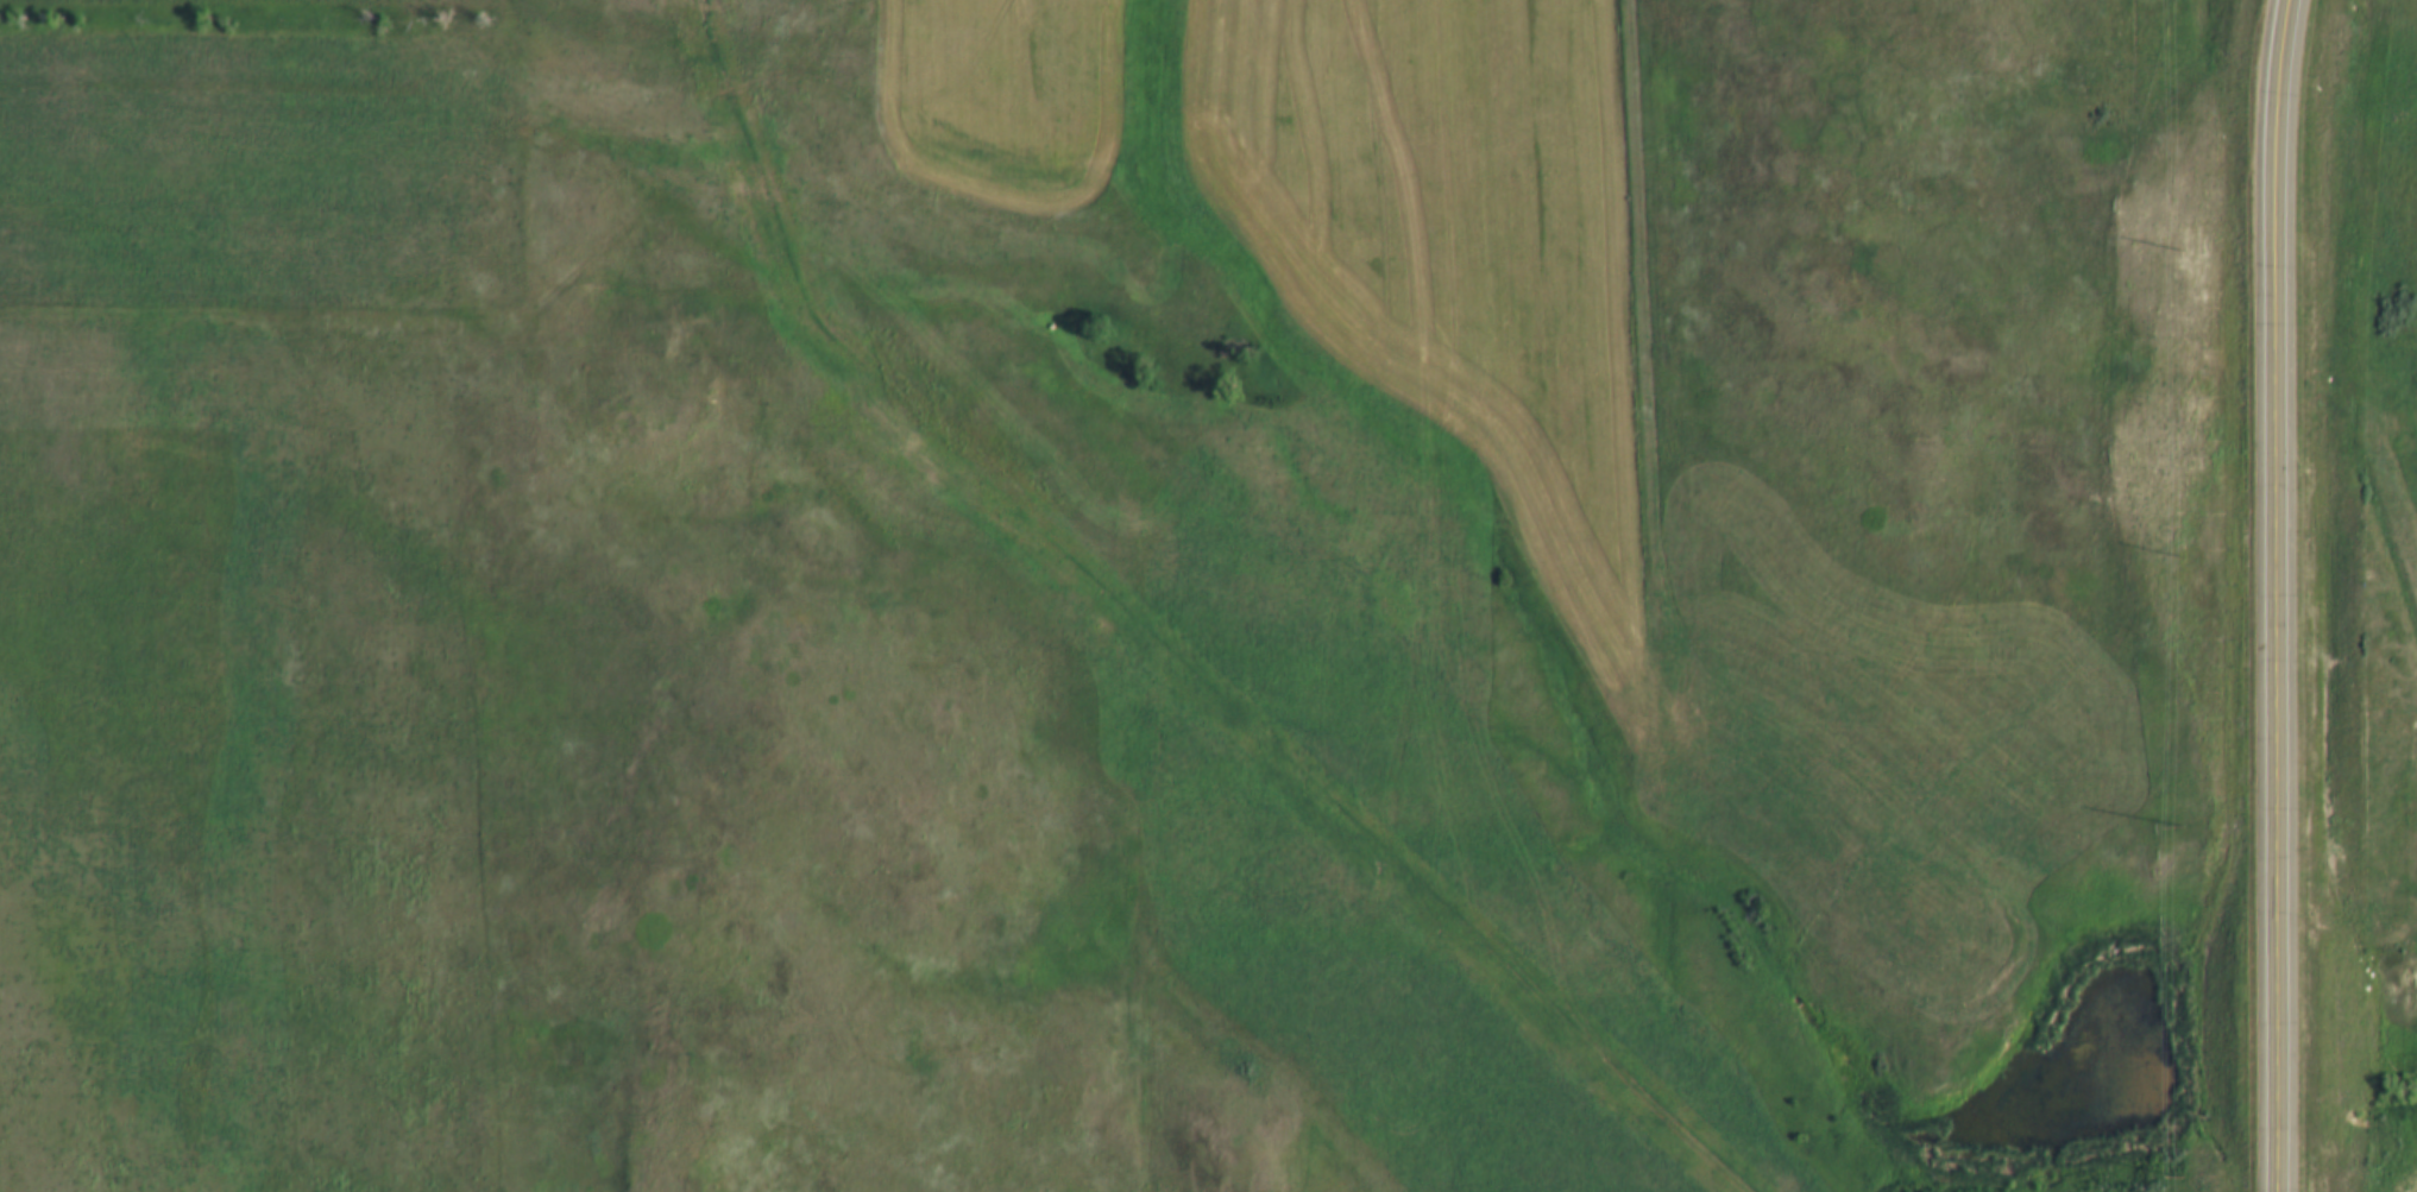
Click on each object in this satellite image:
road: (2278, 595)

